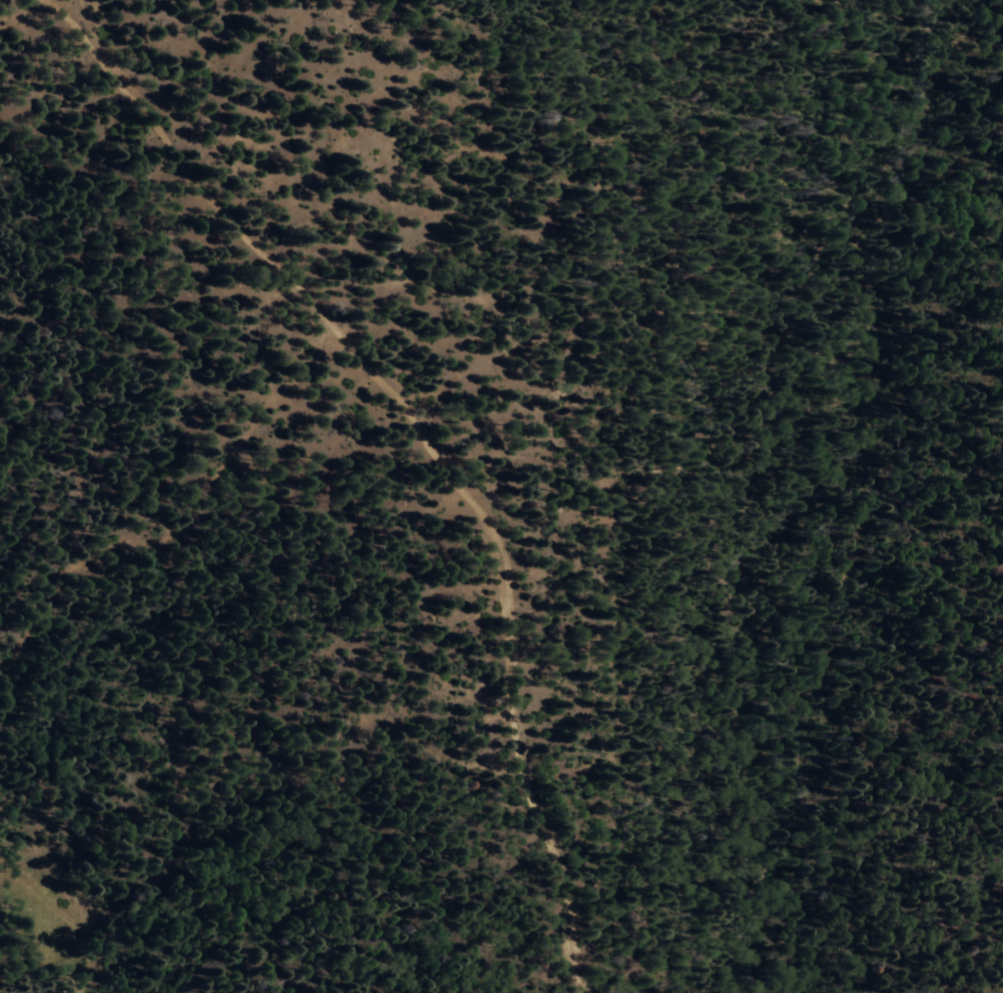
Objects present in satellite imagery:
road: (303, 475)

